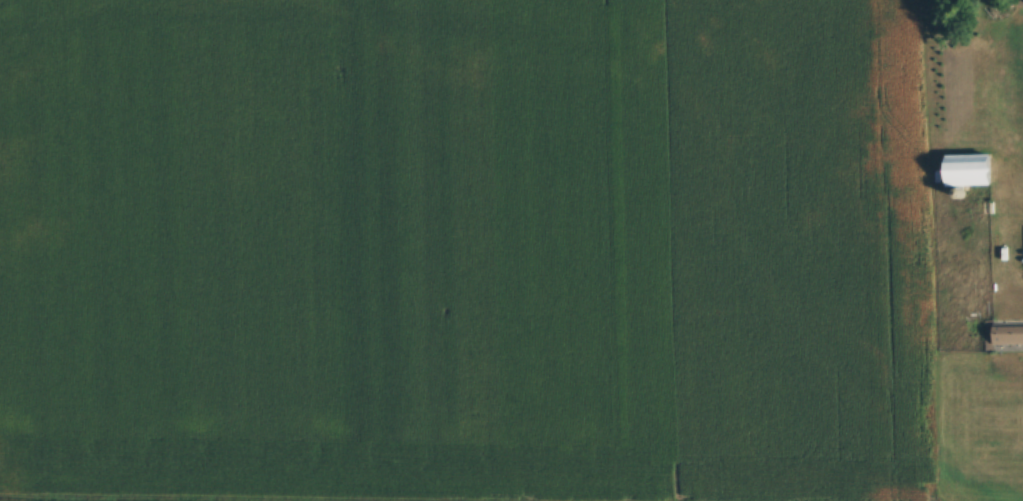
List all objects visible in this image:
building: (982, 96)
building: (974, 179)
building: (1009, 334)

